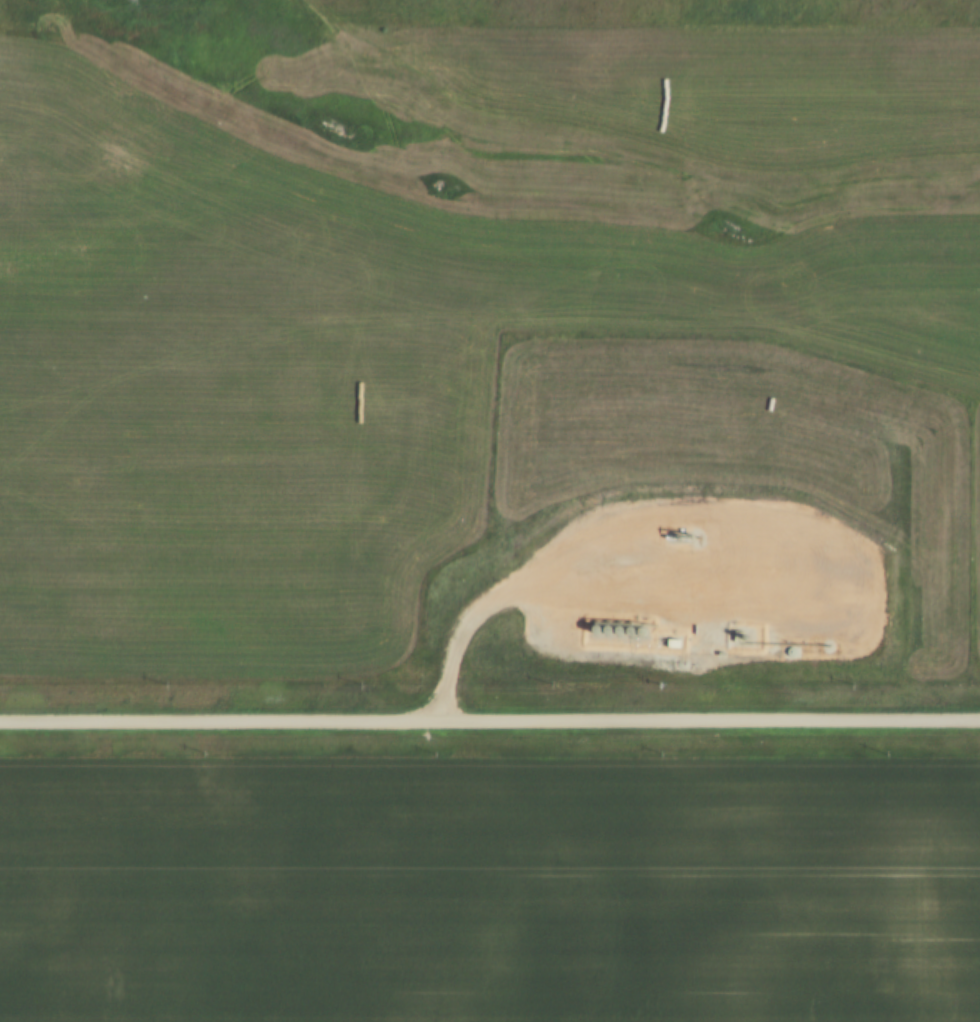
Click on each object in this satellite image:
petroleum well: (687, 529)
building: (600, 623)
storage tank: (600, 623)
building: (611, 624)
storage tank: (611, 624)
building: (622, 625)
storage tank: (622, 625)
building: (633, 626)
storage tank: (633, 626)
building: (645, 626)
storage tank: (645, 626)
building: (796, 646)
storage tank: (796, 646)
road: (489, 718)

